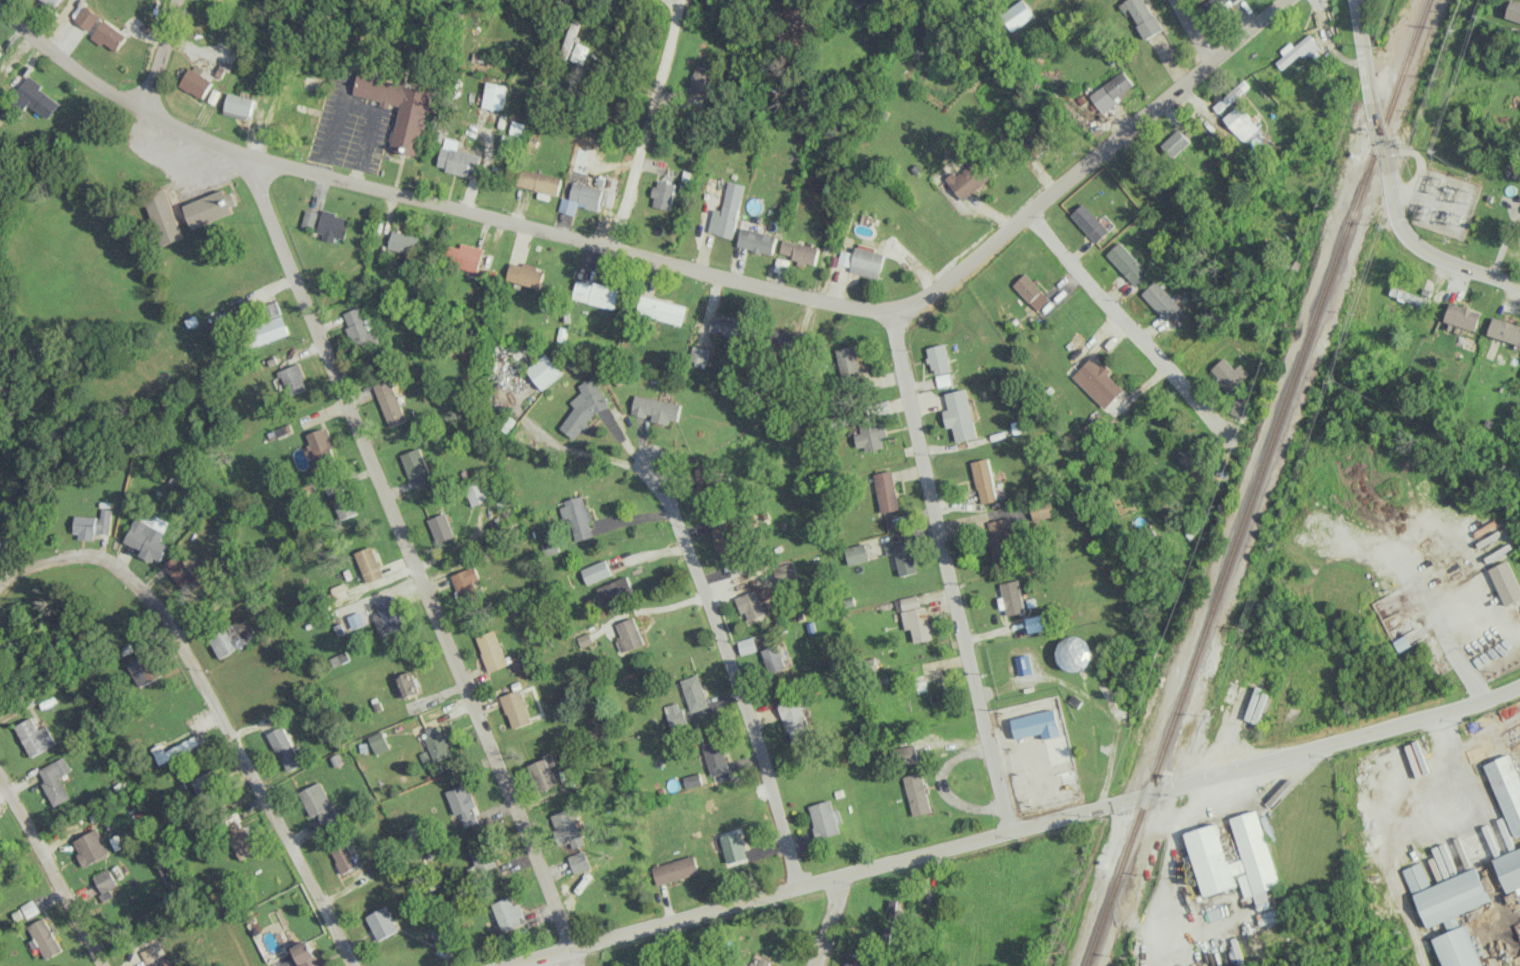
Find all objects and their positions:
building: (877, 0)
building: (52, 2)
building: (1214, 6)
building: (1513, 10)
building: (1017, 15)
building: (1141, 16)
building: (87, 17)
road: (1193, 30)
building: (109, 35)
building: (1298, 51)
building: (578, 53)
road: (160, 56)
building: (224, 56)
road: (1365, 68)
building: (701, 79)
building: (195, 82)
building: (311, 83)
building: (1111, 91)
building: (1230, 94)
road: (118, 95)
building: (494, 96)
building: (38, 98)
building: (238, 105)
building: (398, 108)
building: (289, 117)
building: (1240, 122)
road: (645, 124)
building: (1038, 138)
building: (1174, 143)
building: (457, 158)
building: (969, 177)
building: (539, 181)
building: (663, 194)
building: (582, 197)
building: (210, 207)
building: (727, 211)
building: (164, 216)
building: (309, 218)
building: (1089, 222)
building: (333, 225)
building: (757, 240)
building: (402, 242)
road: (1414, 243)
building: (799, 252)
building: (464, 255)
building: (845, 257)
building: (867, 262)
building: (1127, 263)
building: (527, 274)
building: (1029, 291)
building: (596, 293)
road: (814, 296)
building: (1160, 299)
building: (1415, 299)
building: (662, 309)
road: (1108, 311)
building: (1462, 316)
building: (727, 325)
building: (270, 329)
building: (361, 329)
building: (1504, 331)
building: (788, 340)
building: (700, 354)
building: (939, 358)
building: (848, 361)
building: (544, 371)
building: (1228, 373)
building: (293, 378)
building: (1097, 382)
building: (389, 402)
building: (587, 404)
building: (1239, 408)
building: (656, 409)
building: (960, 415)
building: (871, 435)
building: (320, 445)
building: (1192, 465)
building: (417, 467)
building: (703, 480)
building: (984, 480)
railway: (1256, 482)
building: (476, 491)
building: (886, 491)
building: (342, 500)
building: (1043, 509)
building: (577, 517)
building: (92, 524)
building: (441, 527)
building: (147, 535)
building: (1000, 538)
building: (726, 541)
road: (410, 552)
building: (856, 553)
building: (902, 555)
building: (369, 563)
building: (595, 571)
road: (951, 571)
building: (180, 572)
building: (785, 572)
building: (466, 582)
building: (1505, 582)
building: (613, 590)
building: (764, 593)
building: (749, 604)
building: (388, 615)
building: (915, 618)
building: (357, 620)
building: (1036, 622)
road: (1442, 631)
building: (628, 634)
building: (232, 637)
building: (492, 650)
building: (1075, 652)
building: (776, 657)
building: (340, 658)
building: (1023, 664)
building: (142, 669)
road: (727, 670)
building: (407, 684)
building: (930, 688)
road: (213, 706)
building: (517, 708)
building: (795, 719)
building: (1036, 724)
building: (34, 736)
building: (379, 742)
building: (438, 742)
building: (284, 748)
building: (177, 749)
building: (907, 755)
building: (715, 756)
building: (545, 772)
building: (54, 779)
building: (692, 780)
building: (210, 785)
building: (1506, 789)
building: (916, 793)
building: (318, 803)
building: (464, 805)
building: (823, 818)
building: (568, 827)
road: (1015, 829)
building: (240, 836)
building: (91, 847)
building: (733, 847)
building: (343, 857)
building: (484, 857)
building: (1253, 860)
building: (580, 861)
building: (1509, 868)
building: (675, 869)
road: (50, 870)
building: (105, 882)
building: (1444, 895)
building: (510, 913)
road: (828, 921)
building: (382, 923)
building: (439, 935)
building: (44, 937)
building: (1456, 948)
building: (149, 953)
building: (307, 954)
road: (573, 957)
building: (759, 962)
building: (849, 964)
building: (162, 965)
building: (740, 965)

